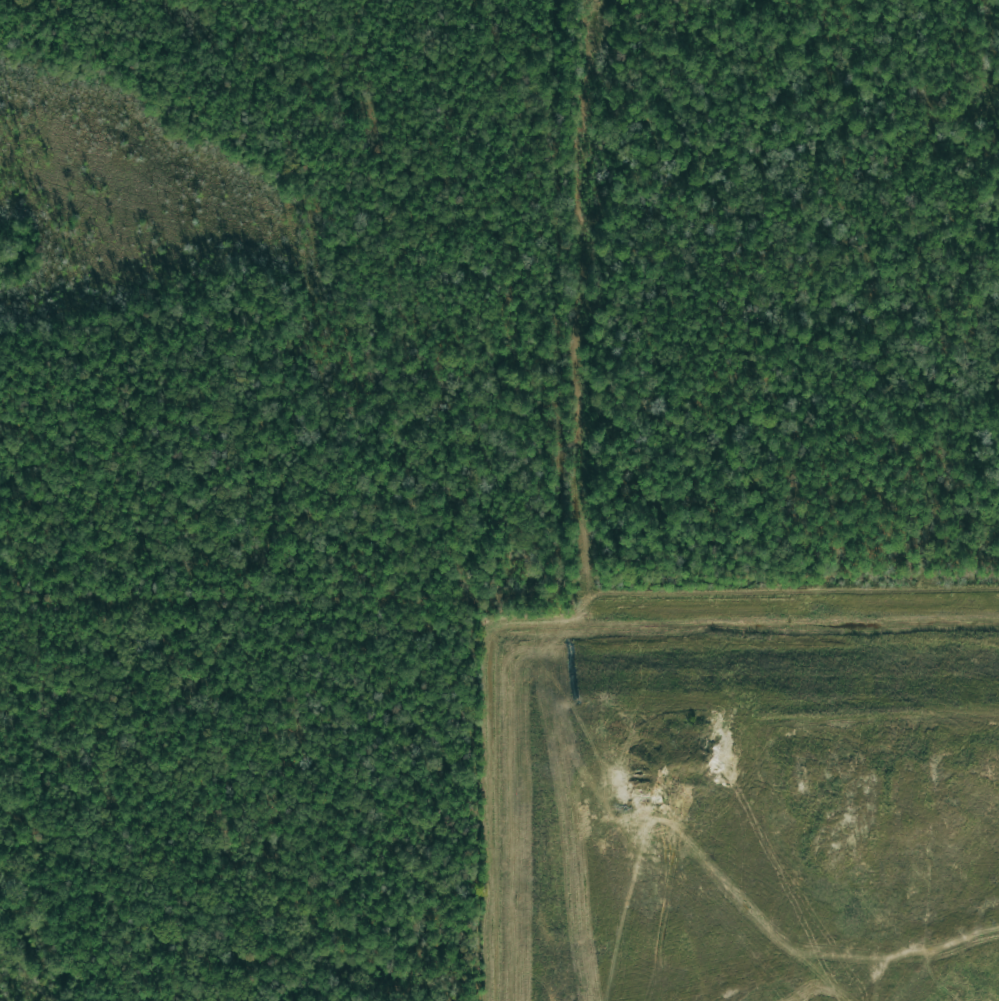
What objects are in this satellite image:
landfill: (741, 808)

